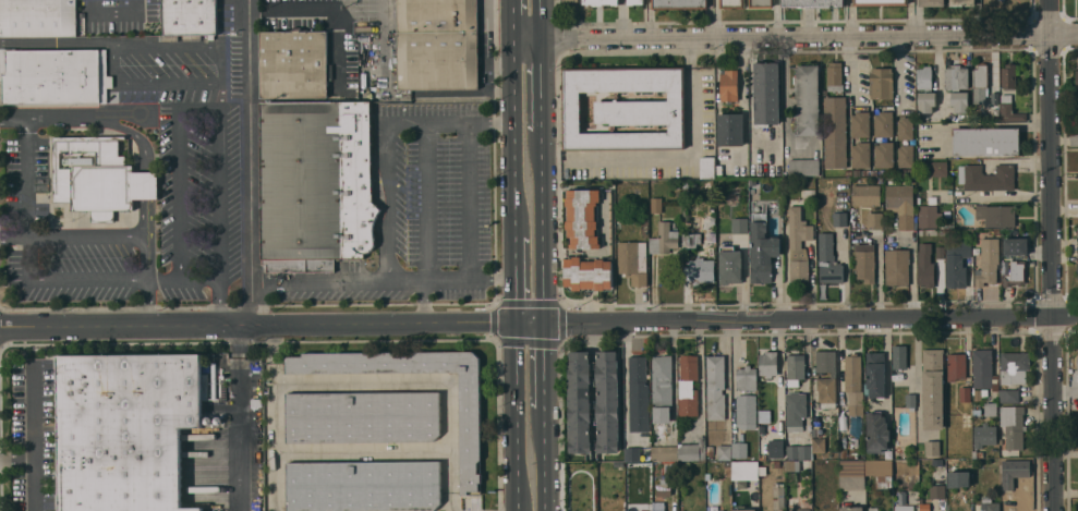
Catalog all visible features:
building: (570, 0)
building: (989, 0)
building: (1000, 0)
building: (1002, 0)
building: (601, 2)
building: (635, 2)
building: (880, 2)
building: (932, 2)
building: (961, 2)
building: (731, 3)
building: (761, 3)
building: (813, 3)
building: (679, 4)
building: (136, 12)
building: (190, 16)
road: (513, 16)
road: (541, 16)
road: (716, 16)
building: (60, 17)
road: (784, 34)
road: (1066, 34)
road: (57, 42)
building: (437, 44)
road: (485, 61)
building: (293, 63)
road: (499, 63)
road: (850, 65)
road: (899, 69)
building: (53, 75)
building: (834, 76)
building: (956, 76)
building: (1008, 76)
building: (924, 77)
building: (1077, 78)
road: (221, 82)
road: (542, 82)
building: (881, 83)
building: (980, 83)
building: (729, 85)
building: (766, 93)
building: (1006, 98)
building: (289, 99)
building: (807, 99)
building: (995, 100)
building: (926, 101)
building: (960, 101)
building: (626, 108)
building: (1010, 113)
road: (88, 117)
road: (218, 120)
road: (407, 124)
building: (860, 124)
building: (883, 124)
building: (906, 129)
building: (730, 130)
building: (835, 132)
road: (514, 135)
building: (1074, 139)
building: (986, 141)
building: (860, 155)
building: (884, 155)
building: (906, 156)
road: (427, 160)
building: (707, 167)
building: (803, 167)
road: (250, 168)
building: (938, 169)
building: (719, 171)
building: (847, 172)
building: (861, 172)
building: (873, 172)
building: (883, 172)
building: (892, 172)
building: (903, 172)
building: (910, 172)
road: (26, 175)
building: (98, 177)
building: (986, 178)
building: (752, 182)
building: (686, 183)
building: (316, 184)
building: (708, 184)
road: (145, 185)
building: (809, 193)
building: (865, 195)
building: (898, 197)
building: (932, 198)
road: (387, 205)
building: (656, 205)
building: (779, 207)
building: (686, 210)
building: (996, 215)
road: (146, 217)
building: (930, 217)
building: (583, 218)
building: (839, 219)
building: (875, 220)
building: (907, 221)
building: (740, 226)
road: (544, 227)
building: (997, 231)
road: (86, 235)
road: (13, 236)
building: (664, 239)
building: (689, 240)
building: (798, 245)
building: (1016, 246)
building: (762, 250)
building: (940, 252)
road: (147, 255)
road: (1054, 255)
building: (828, 260)
building: (633, 261)
building: (989, 261)
building: (1077, 261)
building: (865, 263)
building: (957, 263)
building: (925, 265)
building: (730, 267)
building: (897, 267)
building: (1014, 272)
building: (589, 273)
building: (703, 273)
road: (68, 278)
road: (514, 280)
road: (407, 283)
road: (301, 285)
road: (149, 300)
road: (424, 303)
road: (119, 324)
road: (391, 324)
road: (812, 325)
building: (899, 356)
building: (1077, 358)
building: (768, 364)
building: (956, 366)
building: (1014, 366)
building: (1077, 366)
road: (545, 367)
building: (795, 369)
building: (638, 370)
building: (984, 370)
building: (874, 375)
building: (826, 378)
building: (746, 379)
road: (424, 384)
building: (688, 386)
building: (853, 386)
building: (715, 387)
building: (662, 388)
building: (777, 388)
building: (933, 389)
building: (965, 393)
building: (1009, 396)
building: (910, 401)
building: (579, 402)
building: (607, 402)
building: (990, 409)
building: (795, 411)
building: (746, 412)
building: (764, 415)
road: (274, 416)
building: (363, 416)
road: (238, 417)
road: (516, 417)
building: (1013, 426)
building: (125, 429)
building: (876, 431)
building: (470, 434)
building: (984, 436)
road: (34, 437)
building: (819, 445)
building: (932, 448)
building: (692, 450)
building: (710, 450)
building: (739, 450)
building: (724, 452)
building: (798, 452)
building: (665, 453)
building: (977, 453)
building: (631, 454)
building: (851, 454)
building: (775, 455)
road: (17, 458)
road: (545, 460)
building: (958, 461)
building: (937, 462)
building: (776, 464)
building: (897, 464)
building: (794, 465)
building: (744, 470)
building: (880, 472)
building: (852, 475)
building: (790, 478)
building: (363, 486)
building: (664, 486)
building: (936, 491)
building: (778, 497)
building: (699, 500)
building: (989, 503)
building: (658, 506)
building: (925, 507)
building: (851, 508)
building: (904, 508)
building: (742, 509)
building: (873, 509)
building: (800, 510)

